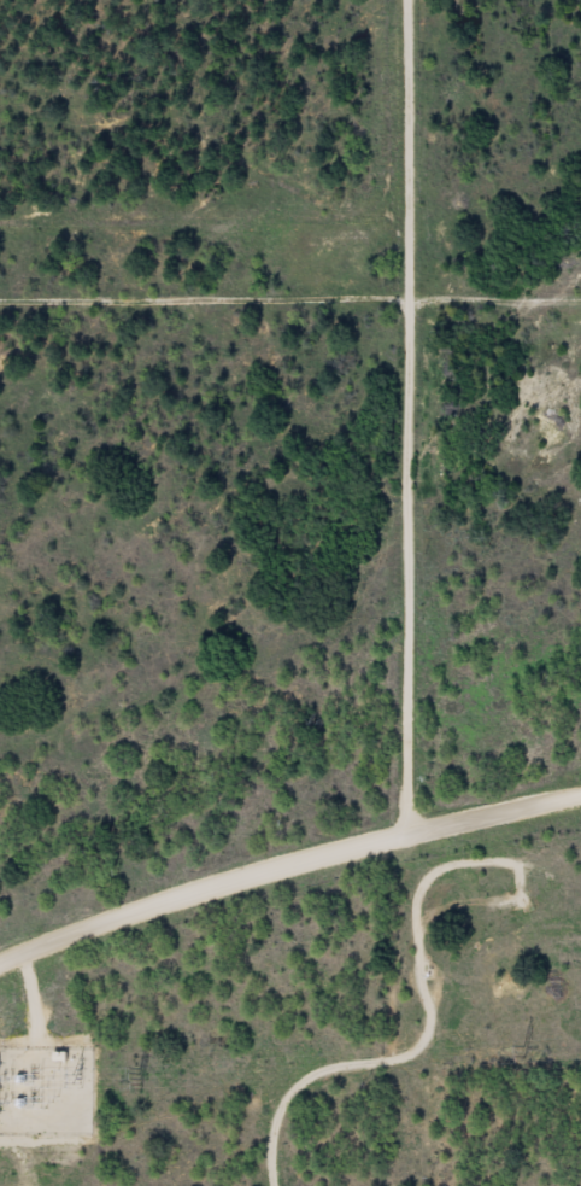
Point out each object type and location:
road: (286, 896)

